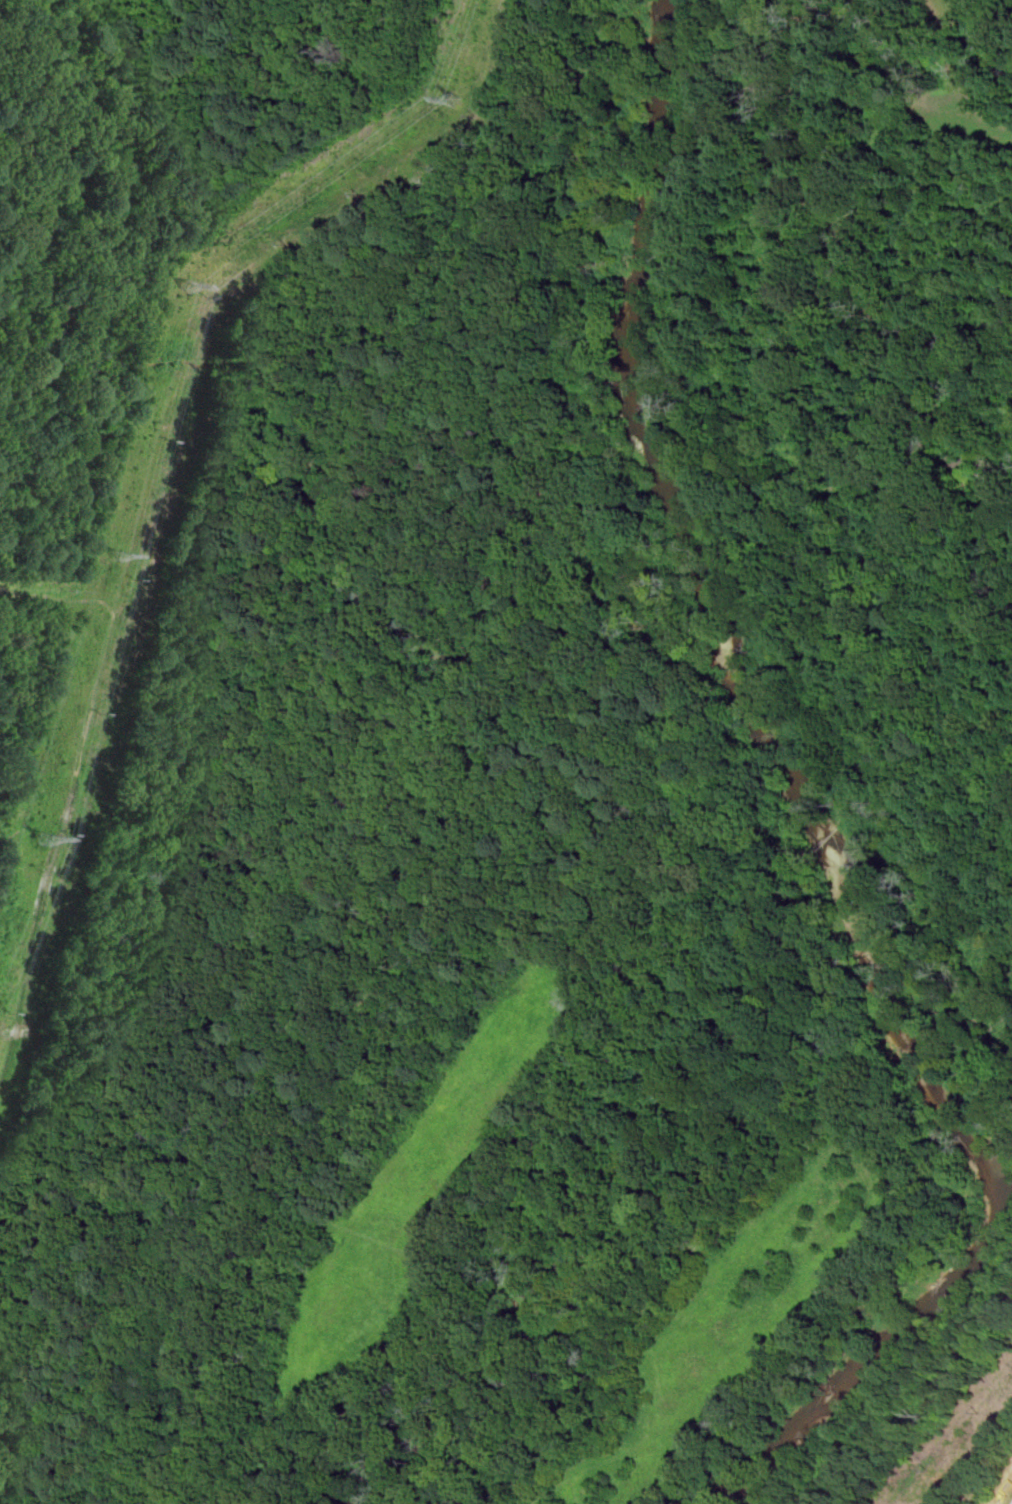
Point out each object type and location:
power tower: (464, 98)
power tower: (195, 290)
road: (145, 511)
power tower: (122, 558)
road: (72, 793)
river: (810, 813)
power tower: (45, 840)

